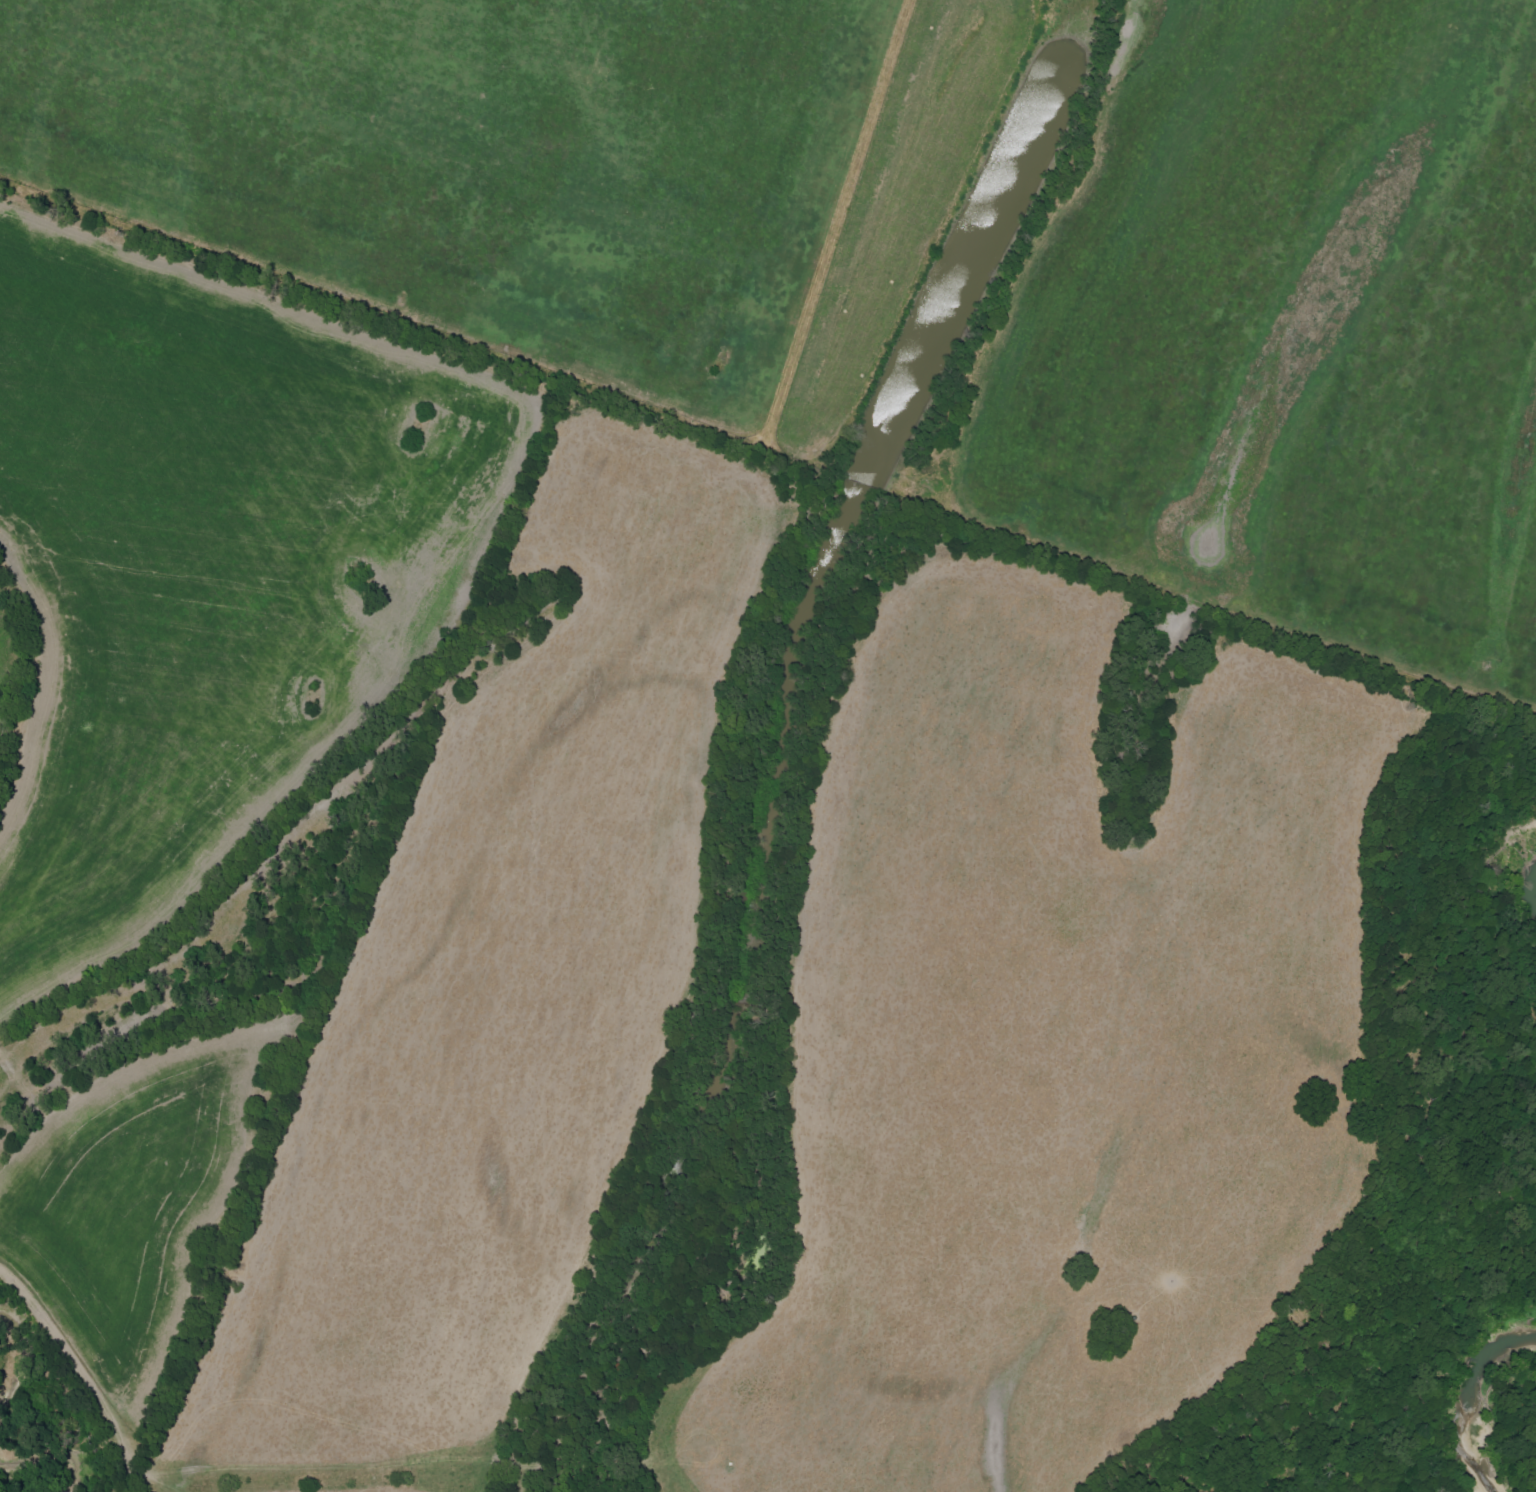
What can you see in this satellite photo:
river: (1476, 1395)

